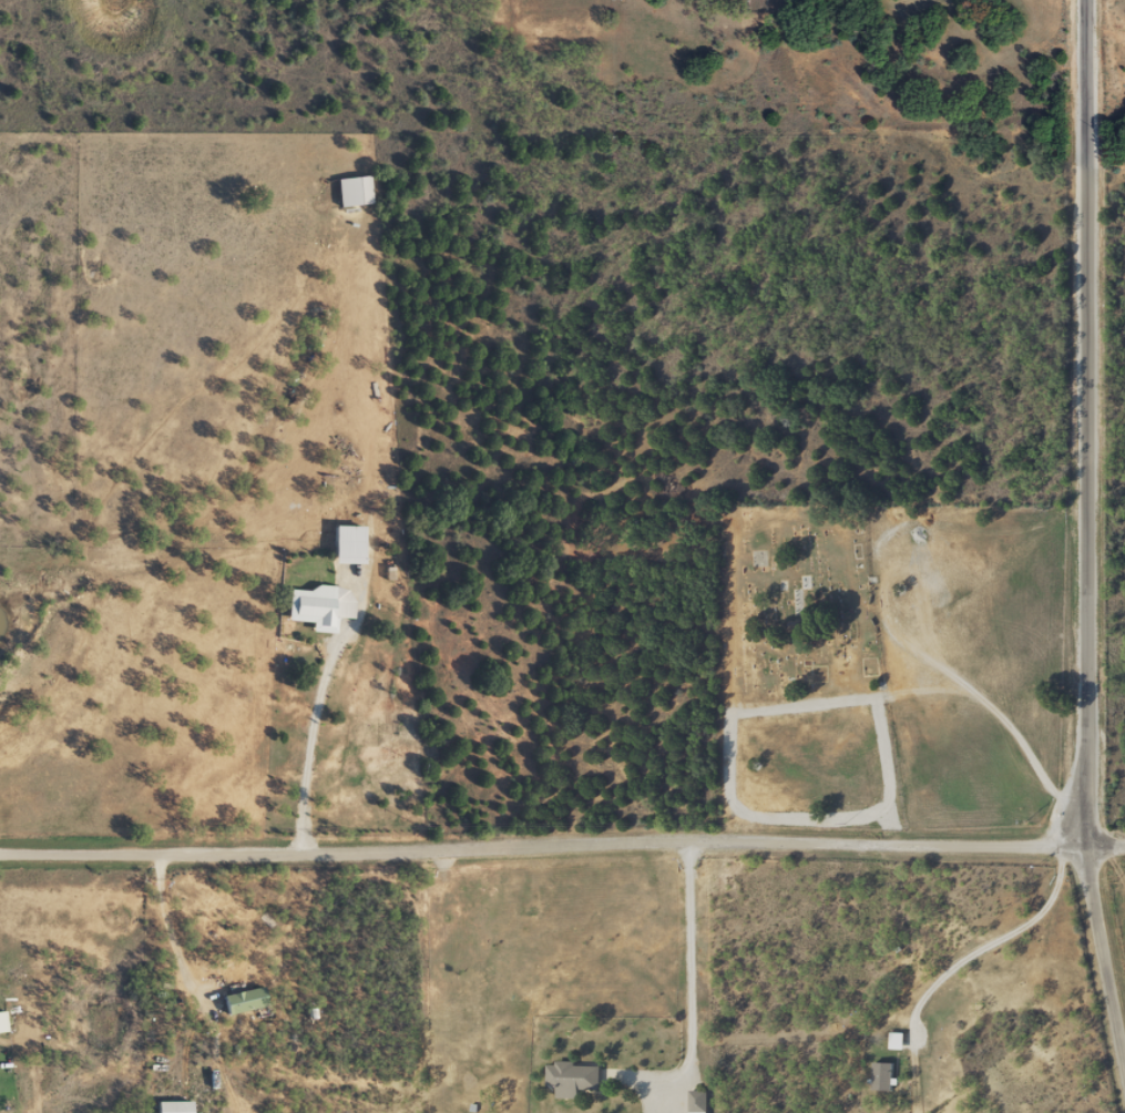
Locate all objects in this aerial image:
building: (350, 191)
road: (1055, 556)
building: (757, 558)
park: (792, 596)
building: (316, 605)
road: (935, 644)
road: (562, 871)
building: (242, 1000)
building: (1, 1022)
building: (893, 1040)
building: (879, 1075)
building: (570, 1079)
building: (170, 1106)

